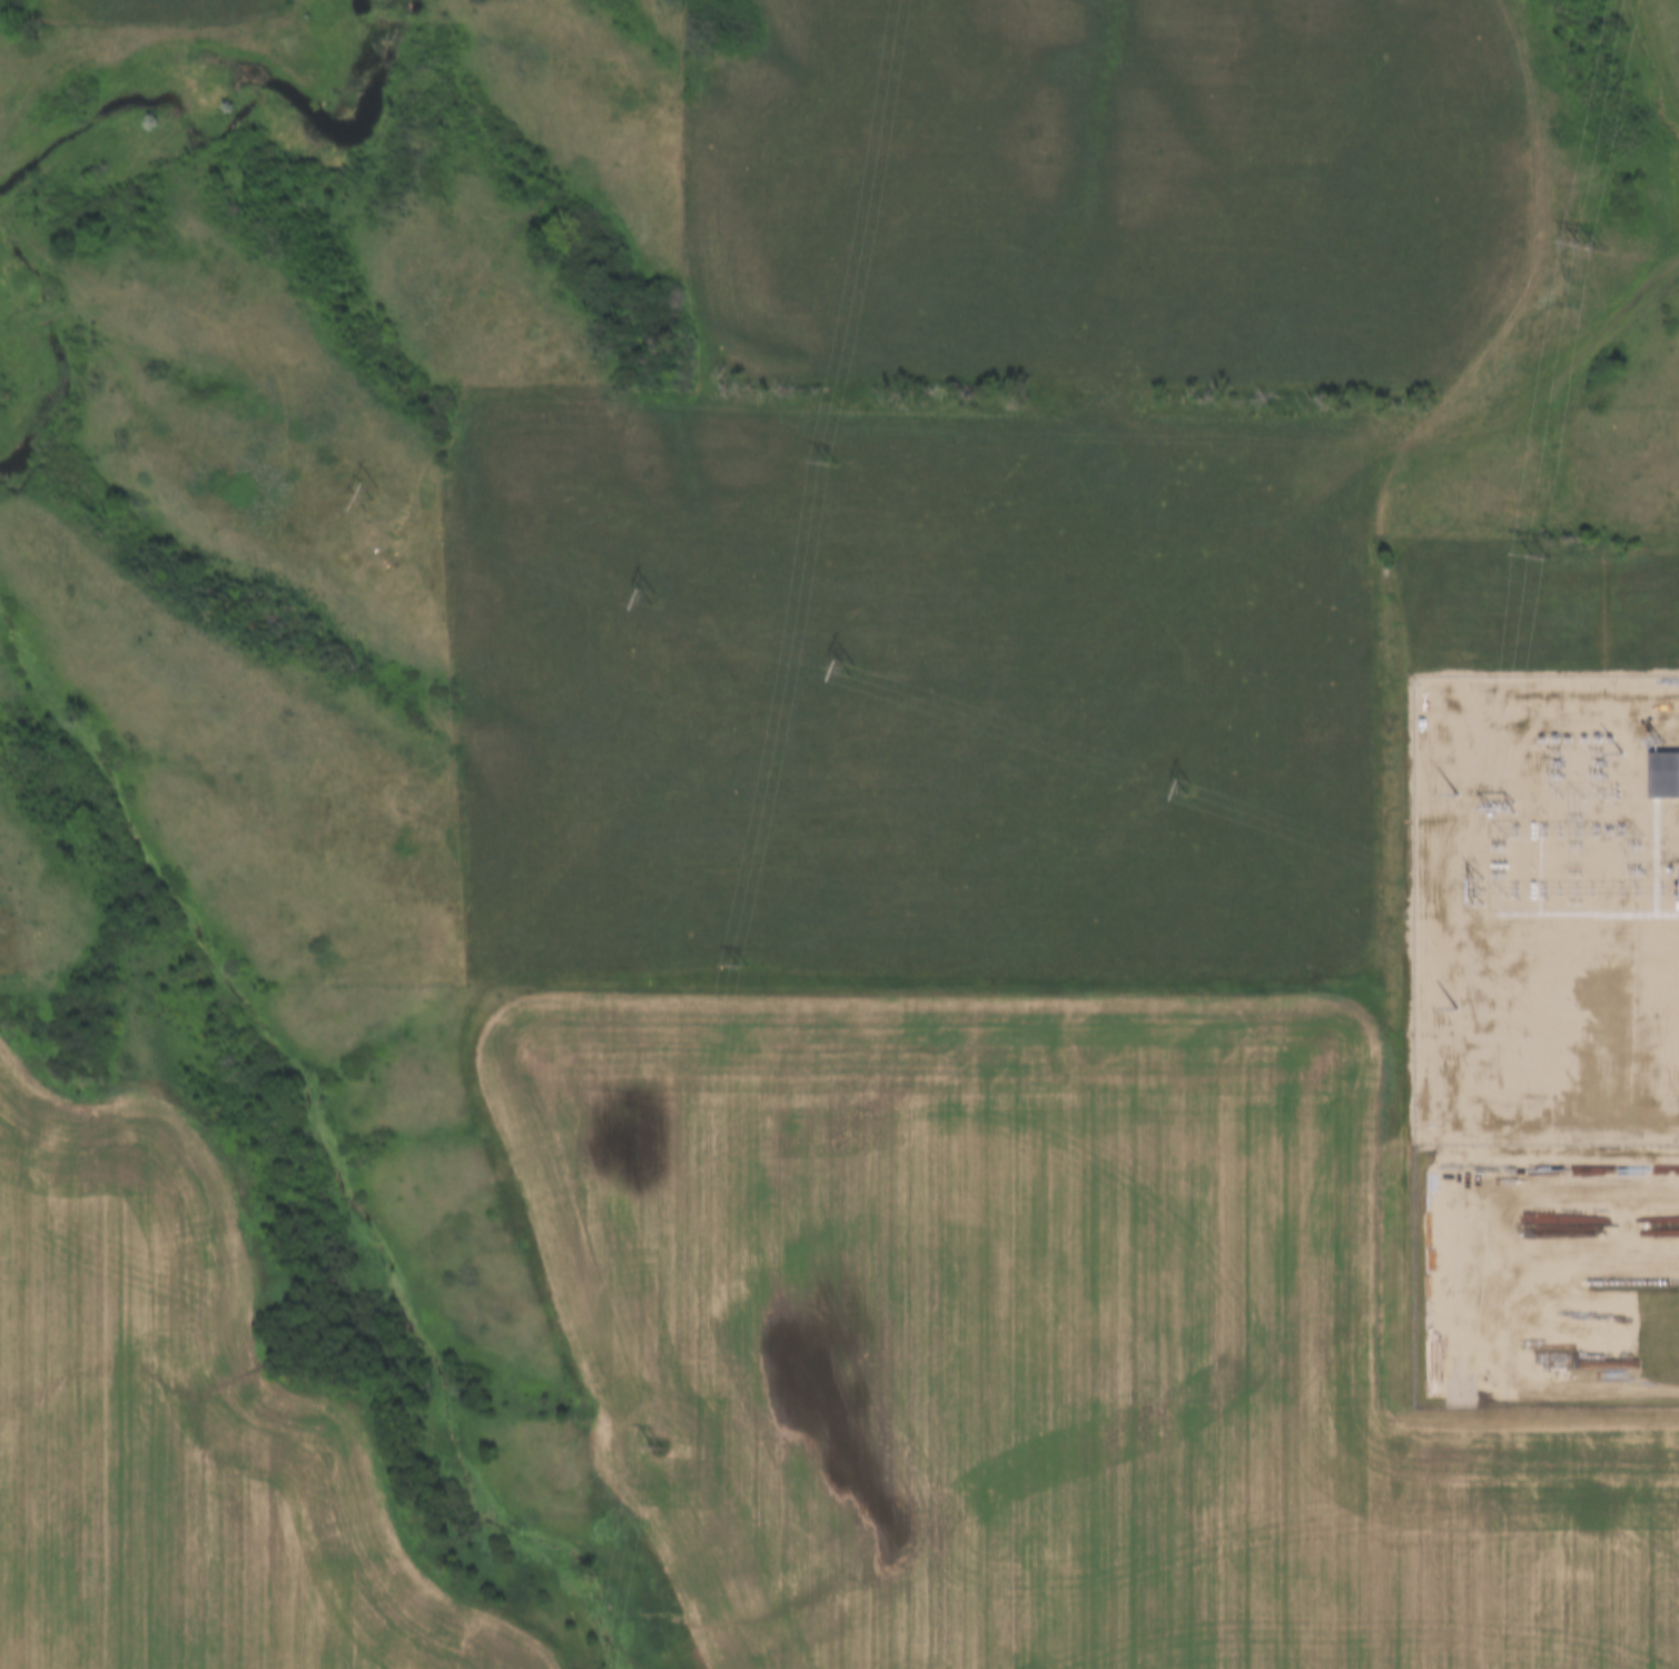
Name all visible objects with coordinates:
road: (1549, 383)
road: (1675, 723)
building: (1662, 773)
power substation: (1547, 910)
road: (1584, 1261)
road: (1491, 1292)

